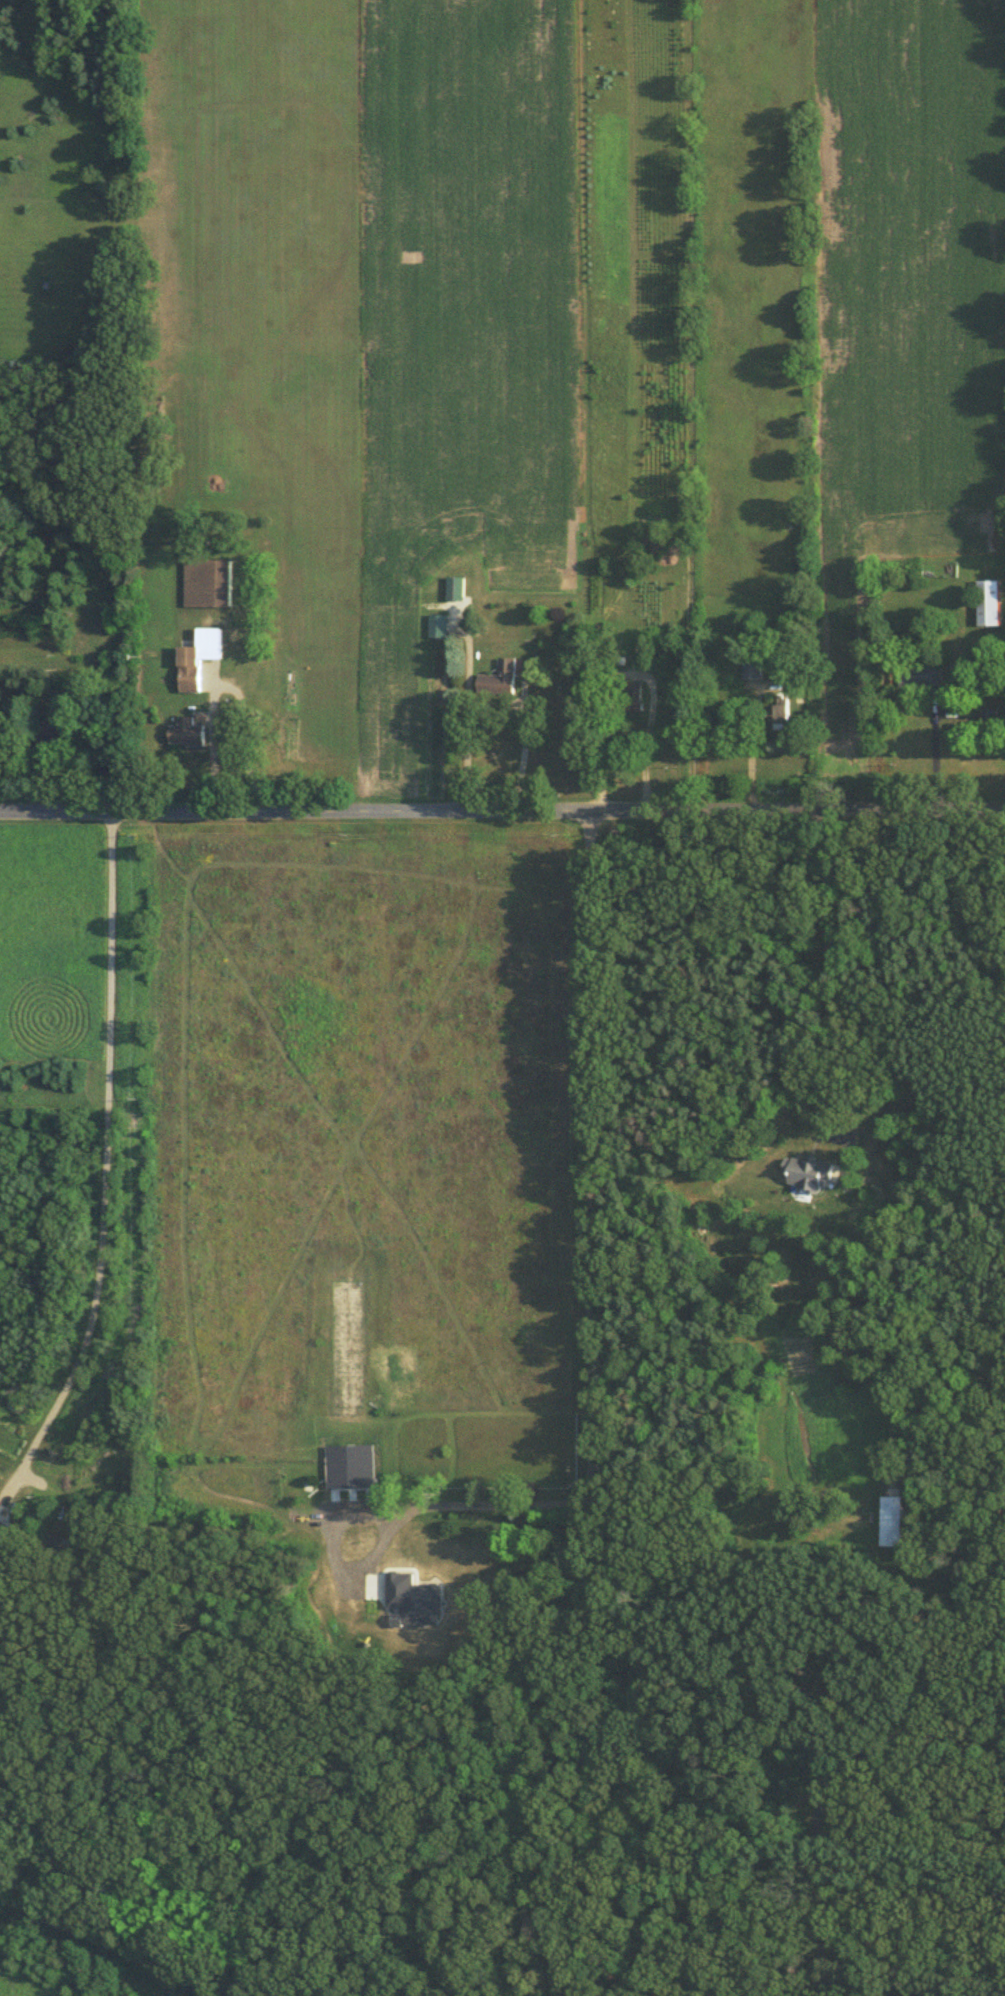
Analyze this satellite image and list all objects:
building: (208, 580)
building: (455, 586)
building: (989, 600)
building: (438, 624)
building: (198, 656)
building: (751, 667)
road: (624, 672)
building: (498, 676)
road: (224, 684)
building: (634, 695)
building: (779, 708)
road: (464, 710)
building: (987, 712)
building: (187, 731)
road: (521, 747)
road: (749, 750)
road: (933, 750)
road: (502, 807)
road: (836, 1010)
road: (108, 1162)
building: (807, 1170)
road: (588, 1344)
building: (349, 1464)
building: (891, 1519)
building: (3, 1524)
building: (413, 1598)
road: (820, 1790)

